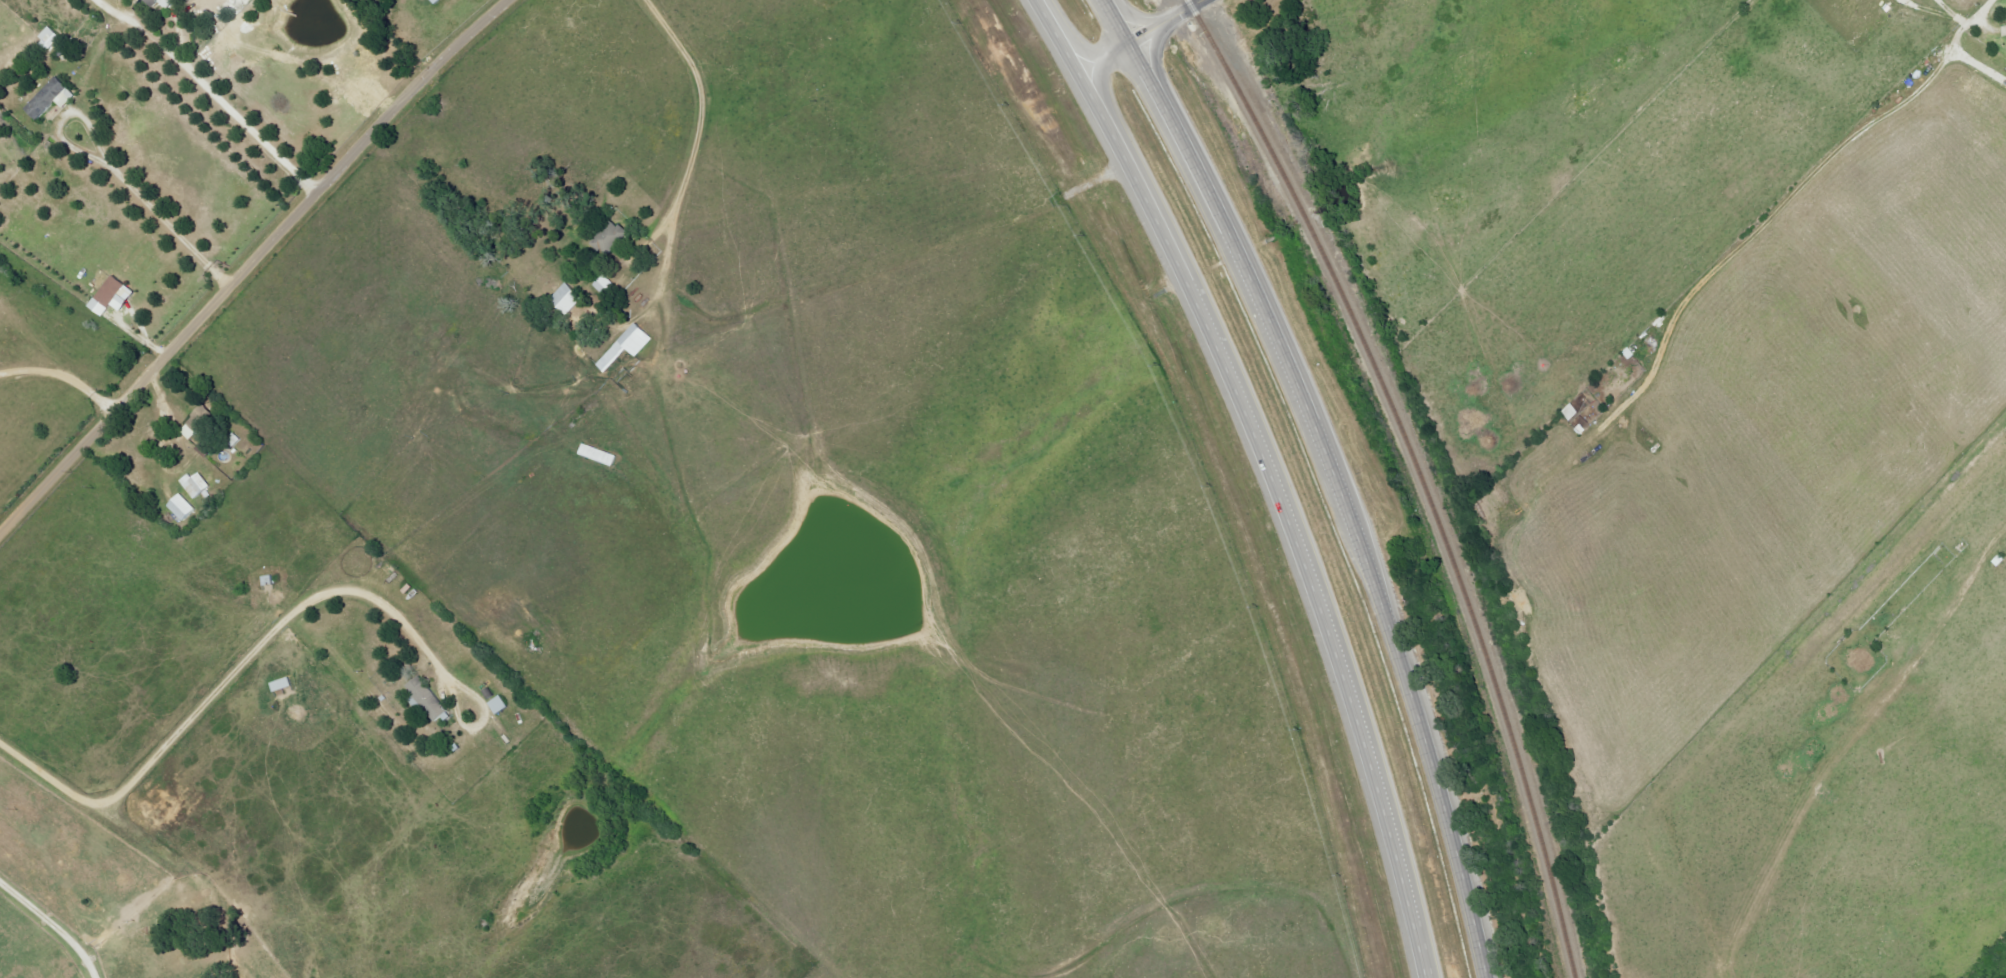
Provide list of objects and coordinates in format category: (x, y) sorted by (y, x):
building: (251, 0)
building: (247, 1)
building: (163, 3)
building: (51, 38)
road: (1136, 38)
road: (1956, 46)
road: (209, 91)
building: (49, 102)
road: (701, 114)
road: (1629, 153)
road: (110, 172)
building: (612, 238)
road: (255, 260)
building: (606, 285)
building: (114, 297)
building: (569, 299)
building: (628, 347)
road: (62, 374)
building: (200, 423)
railway: (1415, 473)
road: (1337, 474)
road: (1243, 477)
building: (197, 485)
building: (184, 508)
road: (226, 682)
building: (283, 685)
building: (429, 699)
building: (500, 705)
road: (1750, 887)
road: (52, 927)

